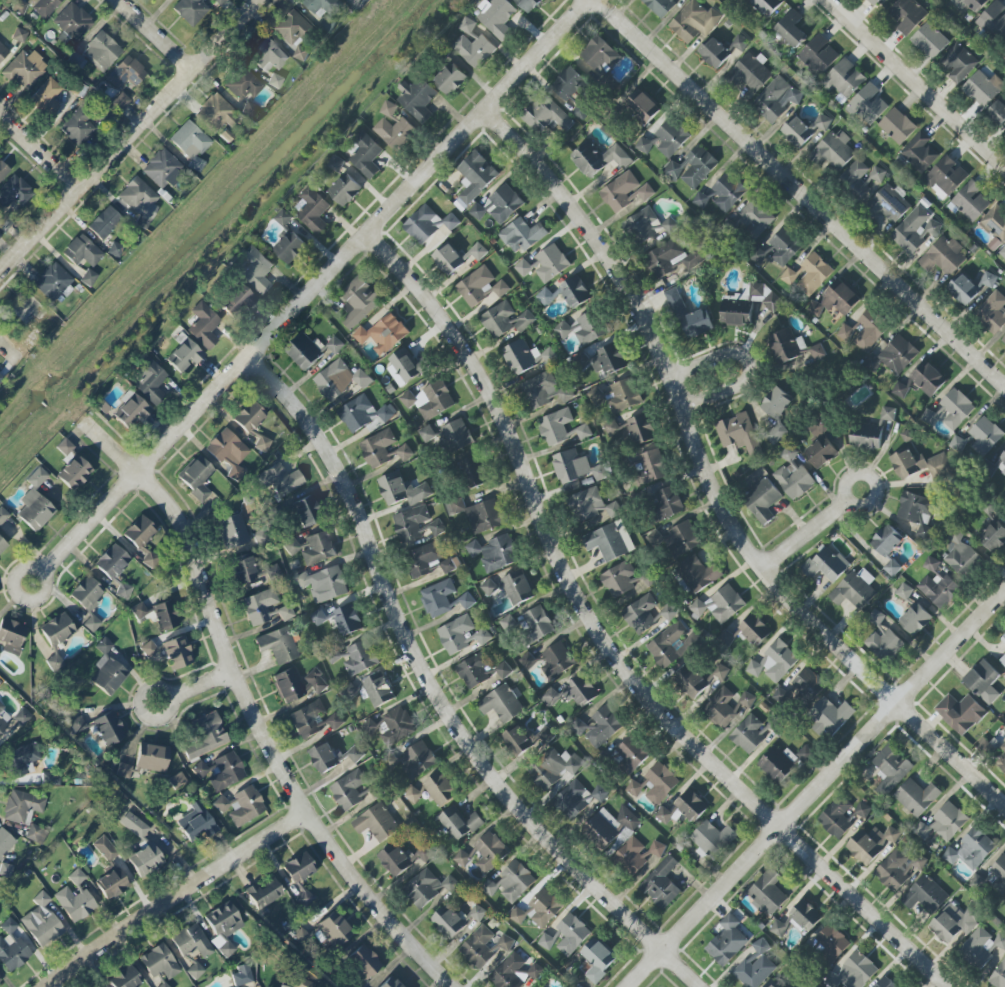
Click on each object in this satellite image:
building: (161, 0)
building: (876, 1)
building: (218, 2)
building: (527, 4)
building: (969, 4)
building: (0, 6)
building: (19, 6)
building: (324, 6)
building: (660, 6)
building: (766, 6)
building: (45, 7)
building: (190, 10)
building: (908, 15)
building: (496, 17)
building: (994, 20)
building: (694, 21)
building: (73, 22)
building: (295, 28)
building: (791, 29)
building: (19, 35)
road: (156, 35)
building: (929, 41)
building: (739, 43)
building: (473, 45)
building: (101, 51)
building: (3, 52)
building: (714, 53)
building: (301, 54)
building: (597, 54)
building: (269, 55)
building: (818, 55)
building: (76, 61)
building: (958, 63)
building: (25, 69)
building: (126, 73)
building: (750, 73)
building: (450, 79)
building: (844, 79)
building: (274, 81)
building: (243, 84)
building: (569, 84)
road: (915, 84)
building: (983, 88)
building: (46, 97)
building: (417, 99)
building: (776, 99)
building: (120, 102)
building: (868, 105)
building: (642, 106)
building: (388, 109)
building: (215, 114)
building: (998, 114)
building: (546, 115)
building: (897, 126)
building: (77, 127)
building: (803, 130)
building: (395, 132)
road: (131, 136)
building: (671, 138)
building: (189, 140)
building: (643, 145)
road: (40, 150)
building: (833, 151)
building: (920, 152)
building: (367, 157)
building: (598, 159)
building: (160, 168)
building: (692, 168)
building: (3, 171)
building: (877, 175)
building: (475, 178)
building: (945, 178)
building: (857, 179)
building: (345, 190)
building: (14, 192)
building: (620, 192)
building: (645, 192)
building: (728, 192)
road: (798, 194)
building: (701, 200)
building: (139, 201)
building: (971, 201)
building: (889, 203)
building: (505, 204)
building: (313, 210)
building: (477, 212)
building: (283, 218)
building: (755, 218)
building: (104, 223)
building: (428, 224)
building: (670, 225)
building: (643, 226)
building: (995, 227)
building: (915, 231)
road: (362, 236)
building: (521, 236)
building: (289, 247)
building: (779, 248)
building: (114, 250)
building: (82, 251)
building: (1002, 251)
building: (478, 252)
building: (943, 257)
building: (448, 259)
building: (671, 259)
building: (551, 263)
building: (525, 268)
building: (256, 270)
building: (814, 274)
building: (789, 276)
building: (88, 278)
building: (52, 281)
building: (481, 286)
building: (963, 289)
building: (575, 292)
building: (545, 297)
building: (835, 300)
building: (236, 302)
building: (359, 302)
building: (747, 305)
building: (28, 310)
building: (992, 312)
building: (688, 317)
building: (505, 320)
building: (203, 326)
building: (583, 329)
building: (863, 331)
building: (383, 334)
building: (1003, 342)
building: (335, 345)
building: (786, 346)
road: (8, 351)
building: (305, 351)
building: (817, 352)
building: (898, 355)
building: (184, 356)
building: (548, 356)
building: (519, 357)
building: (608, 360)
road: (748, 364)
building: (406, 367)
building: (1, 377)
building: (927, 379)
building: (339, 380)
building: (150, 383)
building: (900, 390)
building: (544, 391)
building: (624, 395)
building: (594, 396)
building: (407, 399)
building: (436, 401)
building: (776, 403)
building: (956, 409)
building: (130, 410)
building: (363, 413)
building: (887, 414)
building: (249, 416)
building: (933, 416)
building: (560, 428)
building: (634, 429)
building: (427, 434)
building: (738, 434)
building: (776, 434)
building: (456, 435)
building: (906, 436)
building: (984, 436)
building: (866, 437)
building: (261, 442)
building: (957, 444)
building: (65, 447)
road: (108, 448)
building: (228, 449)
building: (377, 449)
building: (404, 452)
building: (820, 452)
building: (1001, 464)
building: (922, 466)
building: (577, 467)
building: (652, 467)
building: (473, 472)
building: (75, 473)
building: (196, 477)
building: (279, 480)
building: (794, 480)
road: (708, 484)
building: (401, 490)
building: (762, 501)
building: (35, 503)
building: (665, 503)
building: (591, 505)
road: (859, 505)
building: (915, 509)
building: (304, 511)
building: (478, 514)
building: (2, 515)
road: (88, 522)
building: (410, 523)
building: (437, 528)
building: (232, 531)
building: (139, 532)
road: (803, 535)
building: (993, 536)
building: (259, 537)
building: (676, 539)
building: (886, 541)
building: (605, 542)
building: (2, 545)
building: (293, 546)
building: (317, 549)
building: (495, 553)
building: (962, 557)
building: (425, 559)
building: (151, 560)
building: (112, 561)
building: (827, 564)
building: (448, 566)
road: (31, 567)
building: (889, 568)
building: (243, 570)
building: (273, 572)
building: (699, 574)
building: (618, 580)
building: (324, 584)
building: (488, 587)
building: (518, 588)
building: (854, 590)
building: (939, 590)
building: (123, 591)
building: (904, 591)
building: (86, 594)
building: (437, 598)
building: (466, 601)
building: (719, 605)
building: (259, 606)
building: (139, 611)
building: (283, 613)
building: (640, 613)
building: (668, 613)
building: (165, 616)
building: (340, 618)
building: (875, 618)
building: (915, 620)
building: (91, 623)
building: (508, 623)
building: (57, 629)
building: (754, 630)
building: (461, 635)
building: (11, 636)
building: (726, 637)
building: (1003, 639)
building: (279, 645)
building: (671, 645)
building: (884, 645)
building: (103, 646)
road: (605, 647)
building: (152, 652)
building: (177, 653)
building: (359, 659)
building: (1002, 660)
building: (527, 661)
building: (557, 661)
building: (774, 662)
building: (55, 663)
building: (476, 670)
building: (503, 670)
building: (720, 672)
building: (108, 677)
building: (981, 678)
building: (690, 680)
building: (317, 681)
road: (200, 685)
building: (808, 685)
building: (287, 686)
building: (378, 690)
building: (572, 693)
road: (436, 696)
building: (781, 696)
building: (747, 700)
road: (171, 704)
building: (501, 704)
building: (721, 708)
building: (960, 713)
building: (23, 716)
building: (832, 716)
building: (4, 718)
building: (307, 719)
building: (335, 721)
building: (80, 725)
building: (397, 725)
building: (372, 726)
building: (604, 727)
building: (109, 729)
building: (547, 735)
building: (748, 735)
building: (206, 736)
building: (517, 741)
road: (267, 745)
building: (1002, 747)
building: (632, 752)
building: (356, 753)
building: (805, 754)
building: (152, 758)
building: (324, 758)
building: (22, 760)
building: (417, 760)
building: (777, 763)
building: (1001, 763)
building: (554, 768)
building: (891, 769)
building: (123, 770)
building: (200, 770)
building: (226, 772)
building: (177, 781)
building: (660, 783)
building: (440, 788)
building: (634, 788)
road: (815, 788)
building: (348, 790)
building: (412, 795)
building: (916, 797)
building: (577, 799)
building: (221, 804)
building: (21, 806)
building: (246, 806)
building: (684, 808)
building: (862, 811)
building: (835, 818)
building: (628, 819)
building: (196, 823)
building: (377, 823)
building: (460, 823)
building: (943, 823)
building: (134, 825)
building: (602, 829)
building: (36, 834)
building: (712, 839)
building: (5, 843)
building: (871, 844)
building: (105, 848)
building: (971, 850)
building: (489, 851)
building: (636, 855)
building: (461, 858)
building: (400, 859)
building: (145, 860)
building: (897, 869)
building: (999, 875)
building: (300, 876)
building: (76, 877)
building: (511, 883)
building: (112, 884)
building: (661, 884)
building: (427, 888)
building: (768, 892)
building: (263, 894)
building: (925, 895)
road: (177, 897)
building: (75, 904)
building: (538, 909)
building: (1004, 909)
building: (804, 916)
building: (224, 920)
building: (454, 920)
building: (41, 922)
building: (954, 923)
building: (335, 929)
building: (778, 929)
building: (566, 935)
building: (191, 941)
building: (727, 941)
building: (831, 944)
building: (483, 947)
building: (12, 948)
building: (982, 948)
building: (226, 949)
building: (598, 959)
building: (159, 962)
building: (363, 962)
building: (755, 966)
building: (195, 971)
building: (856, 971)
building: (514, 972)
building: (999, 975)
building: (241, 976)
building: (125, 978)
building: (0, 979)
building: (303, 983)
building: (390, 983)
building: (885, 983)
building: (163, 985)
building: (769, 985)

